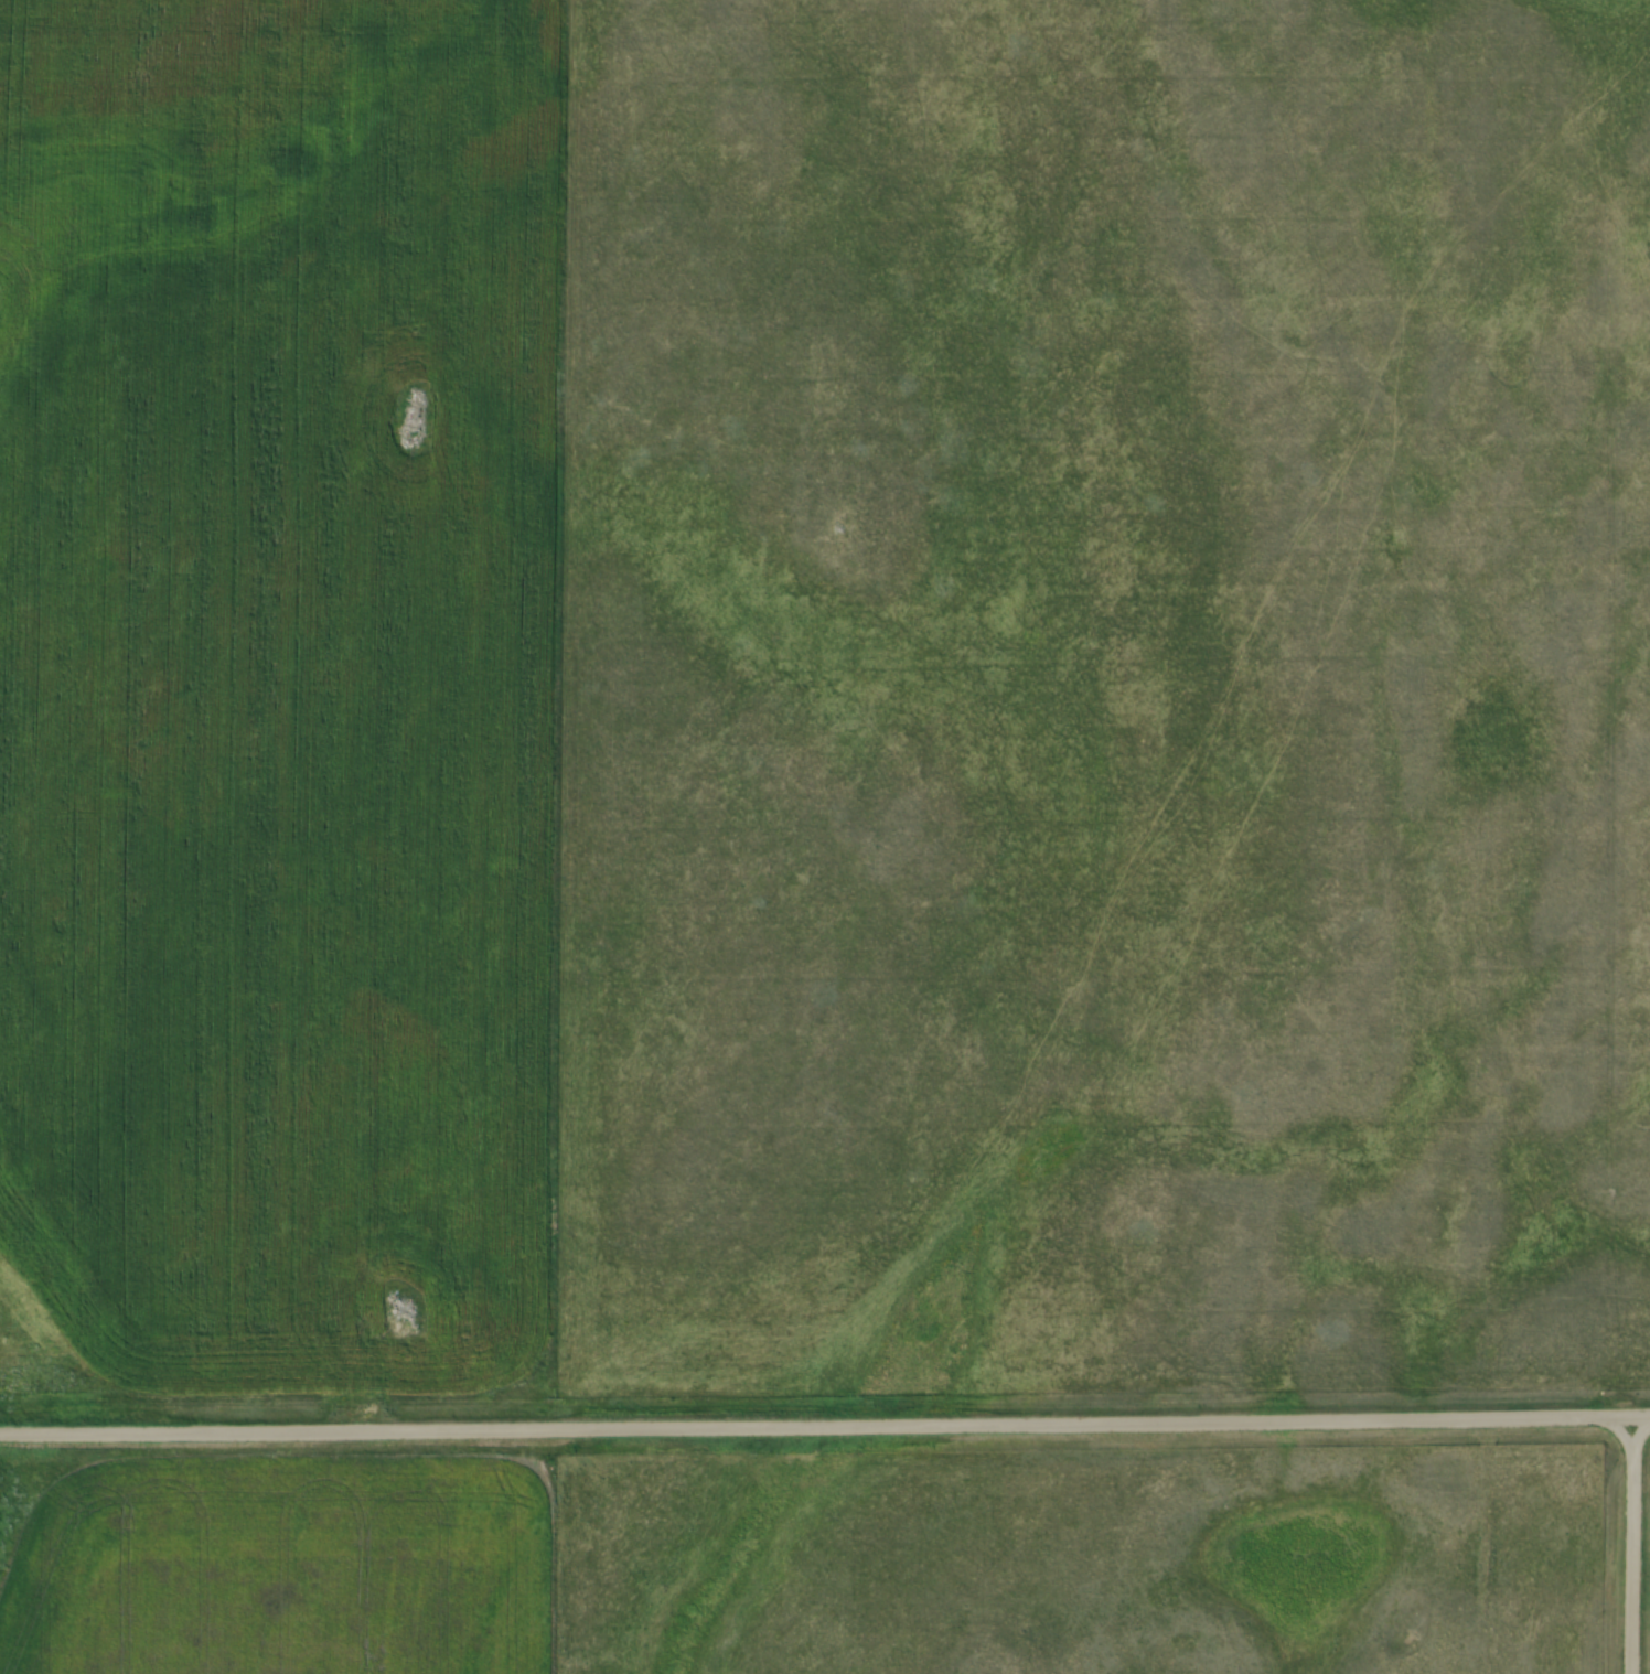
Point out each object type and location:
road: (825, 1426)
road: (1630, 1546)

